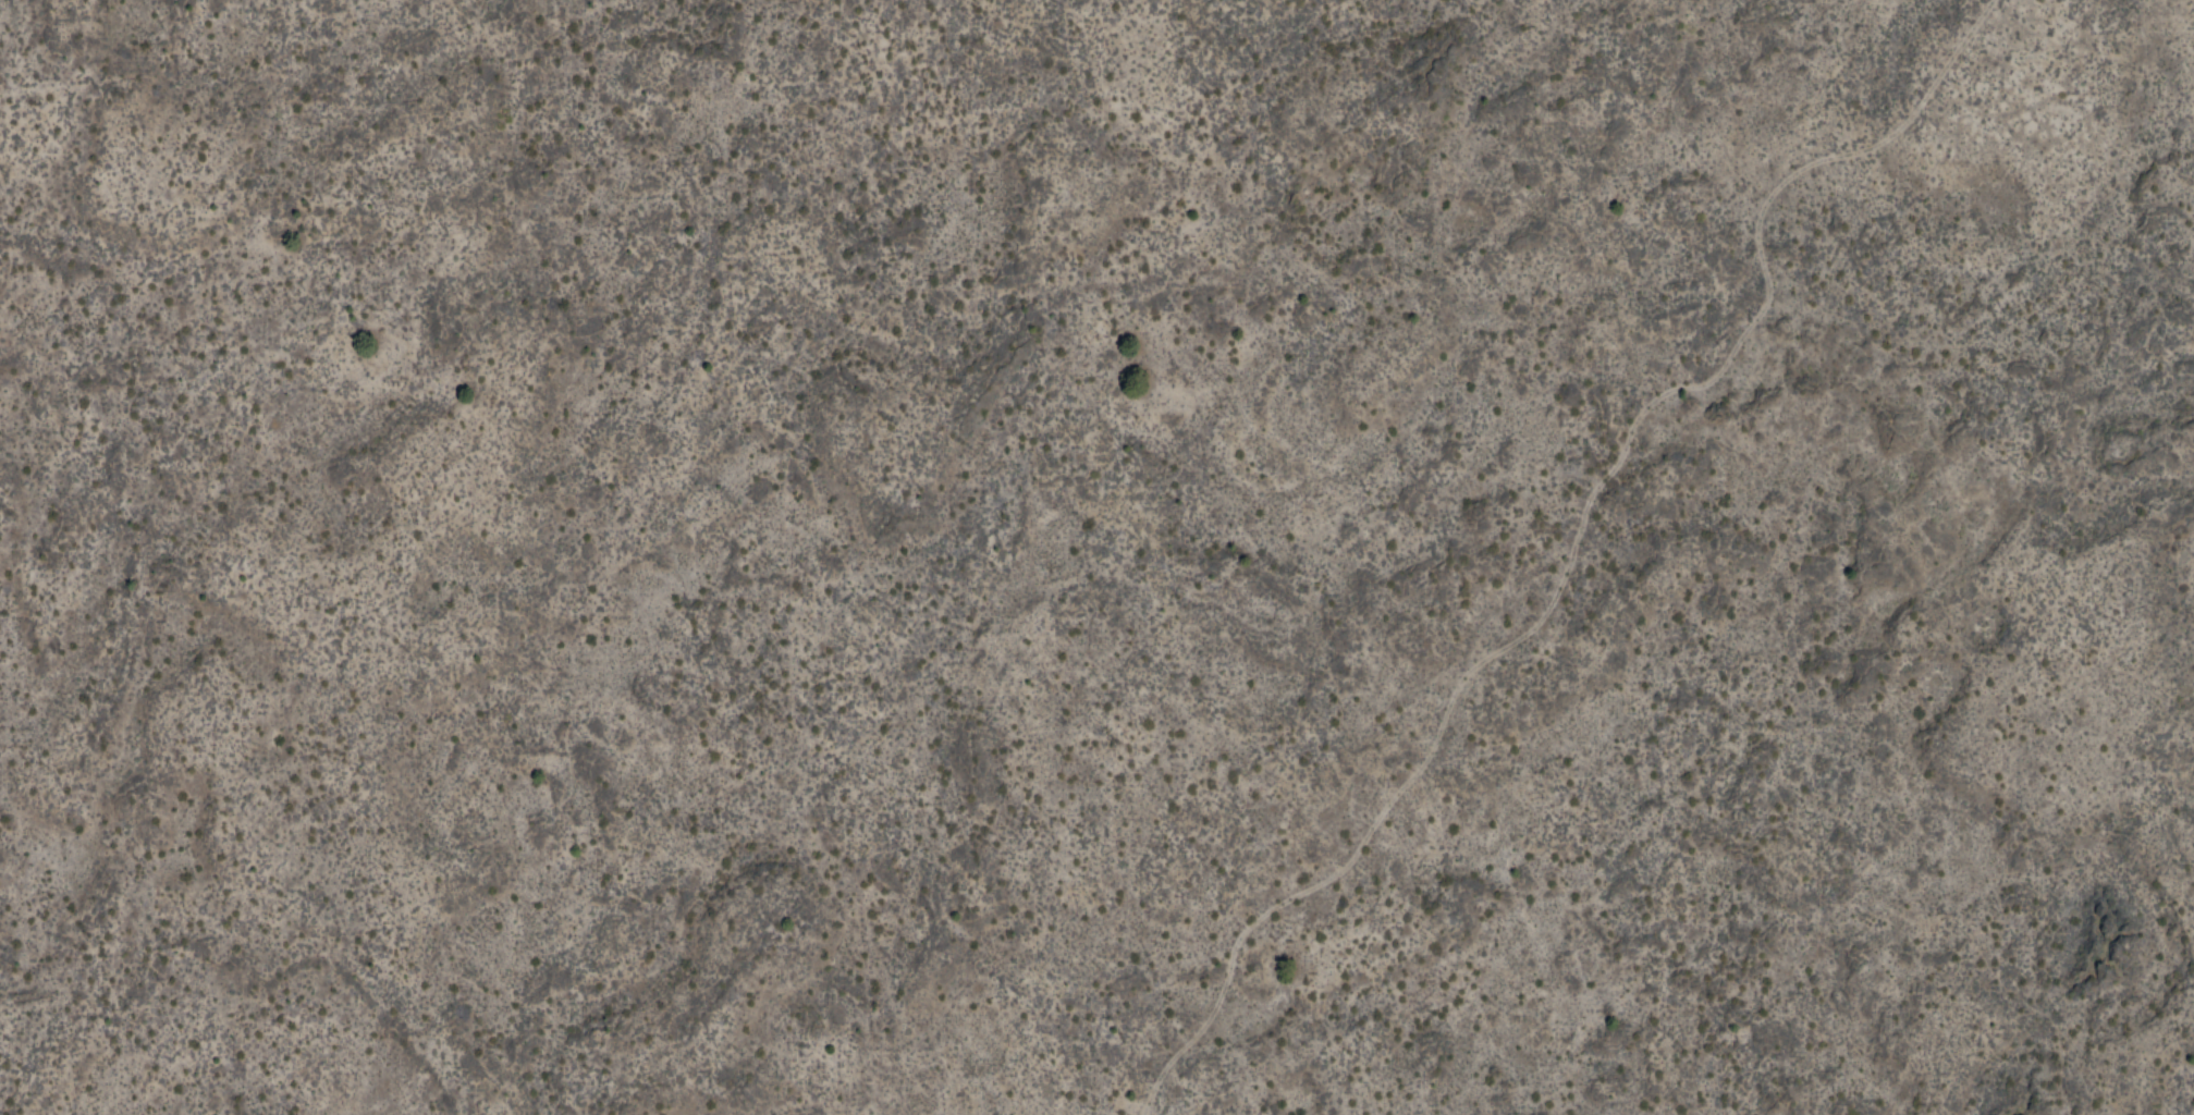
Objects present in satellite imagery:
road: (1583, 547)

